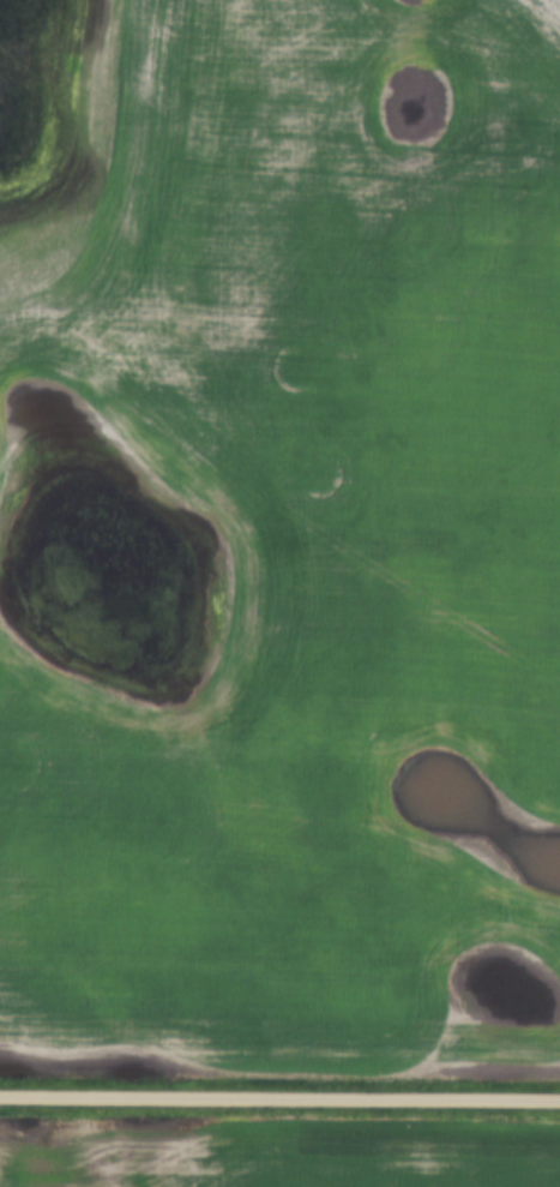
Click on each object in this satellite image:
road: (279, 1098)

